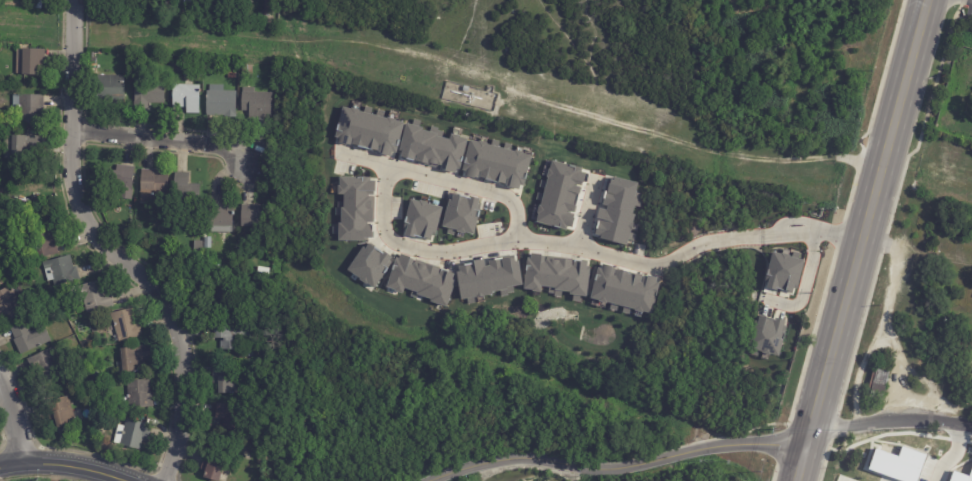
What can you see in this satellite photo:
building: (38, 6)
building: (228, 7)
building: (55, 8)
building: (131, 9)
building: (269, 9)
building: (172, 14)
building: (210, 16)
road: (464, 31)
road: (579, 55)
building: (29, 61)
building: (247, 70)
building: (232, 76)
building: (11, 79)
building: (110, 89)
building: (148, 91)
building: (186, 97)
building: (220, 101)
building: (257, 103)
building: (29, 107)
road: (605, 119)
building: (368, 130)
road: (164, 141)
building: (25, 147)
building: (431, 148)
road: (367, 158)
building: (496, 164)
building: (121, 181)
road: (471, 185)
building: (153, 186)
building: (559, 195)
building: (185, 196)
building: (356, 209)
building: (219, 212)
building: (616, 212)
road: (586, 213)
building: (461, 214)
building: (254, 219)
building: (421, 220)
road: (865, 240)
railway: (877, 240)
building: (208, 242)
building: (41, 244)
building: (198, 245)
building: (268, 247)
road: (691, 247)
road: (111, 249)
road: (416, 250)
building: (369, 265)
building: (213, 269)
building: (62, 270)
building: (782, 272)
building: (556, 275)
building: (487, 277)
building: (2, 278)
building: (419, 279)
building: (265, 282)
road: (805, 286)
building: (624, 289)
building: (94, 296)
building: (216, 299)
building: (266, 304)
building: (9, 305)
building: (124, 325)
building: (232, 335)
building: (767, 336)
building: (29, 338)
building: (971, 350)
building: (134, 358)
building: (45, 364)
building: (225, 379)
building: (879, 384)
building: (138, 395)
building: (64, 412)
building: (231, 418)
road: (893, 421)
road: (14, 422)
building: (132, 435)
road: (950, 454)
building: (213, 466)
road: (61, 469)
road: (626, 469)

